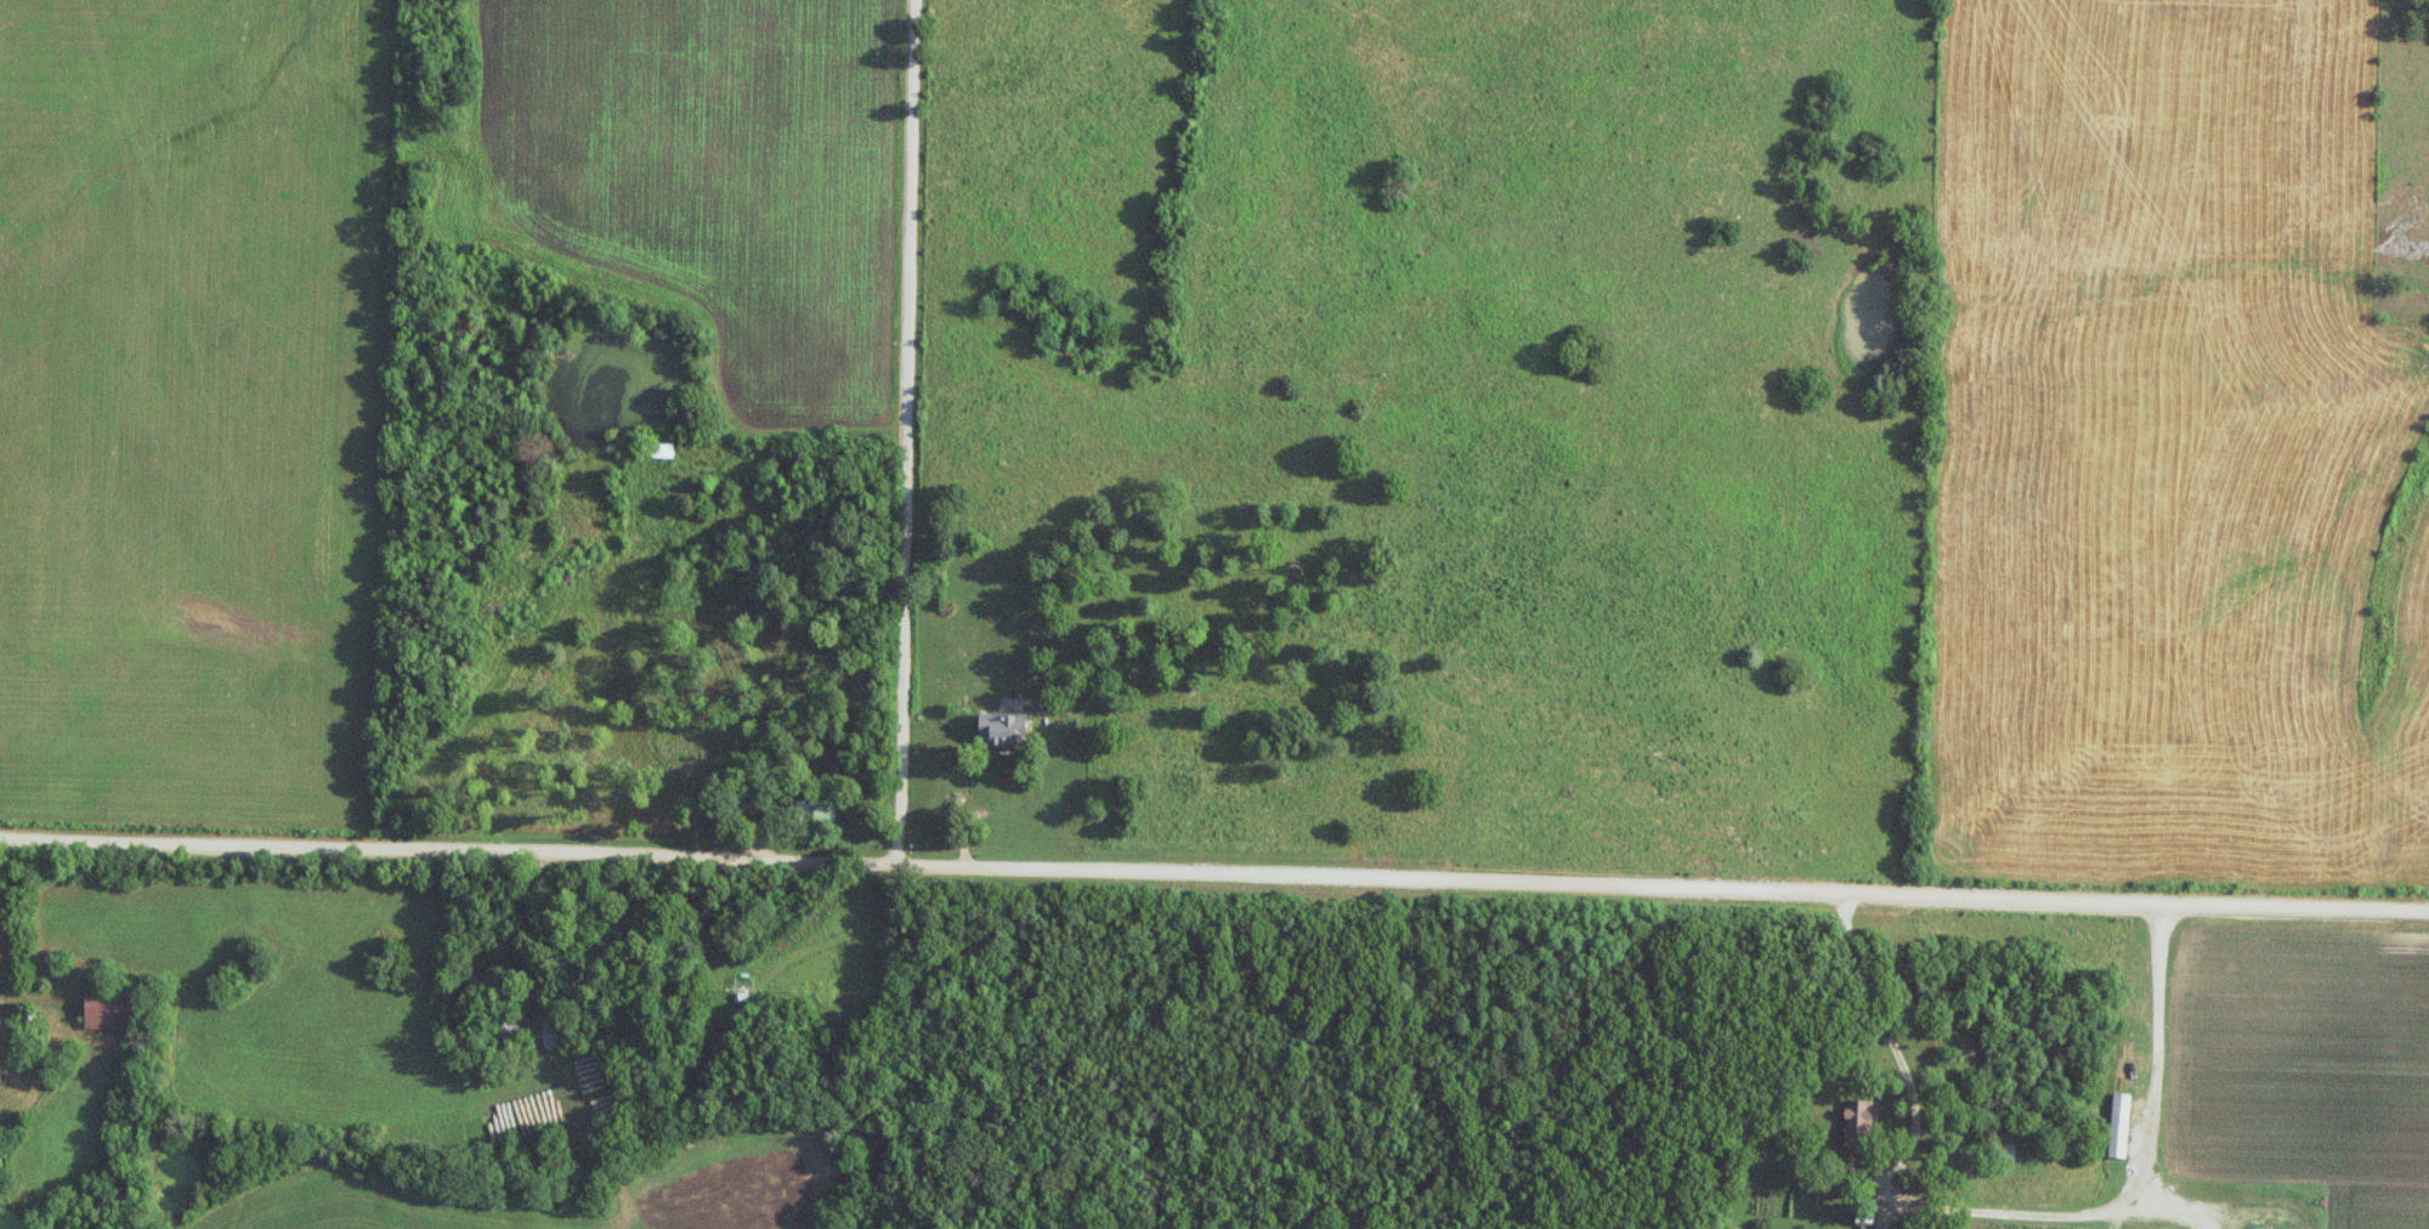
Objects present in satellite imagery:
building: (732, 243)
road: (908, 432)
building: (659, 451)
building: (1002, 729)
building: (825, 814)
road: (1213, 873)
building: (109, 1009)
building: (505, 1023)
road: (2158, 1059)
road: (30, 1075)
building: (1858, 1126)
building: (2121, 1126)
building: (2006, 1152)
road: (1895, 1197)

